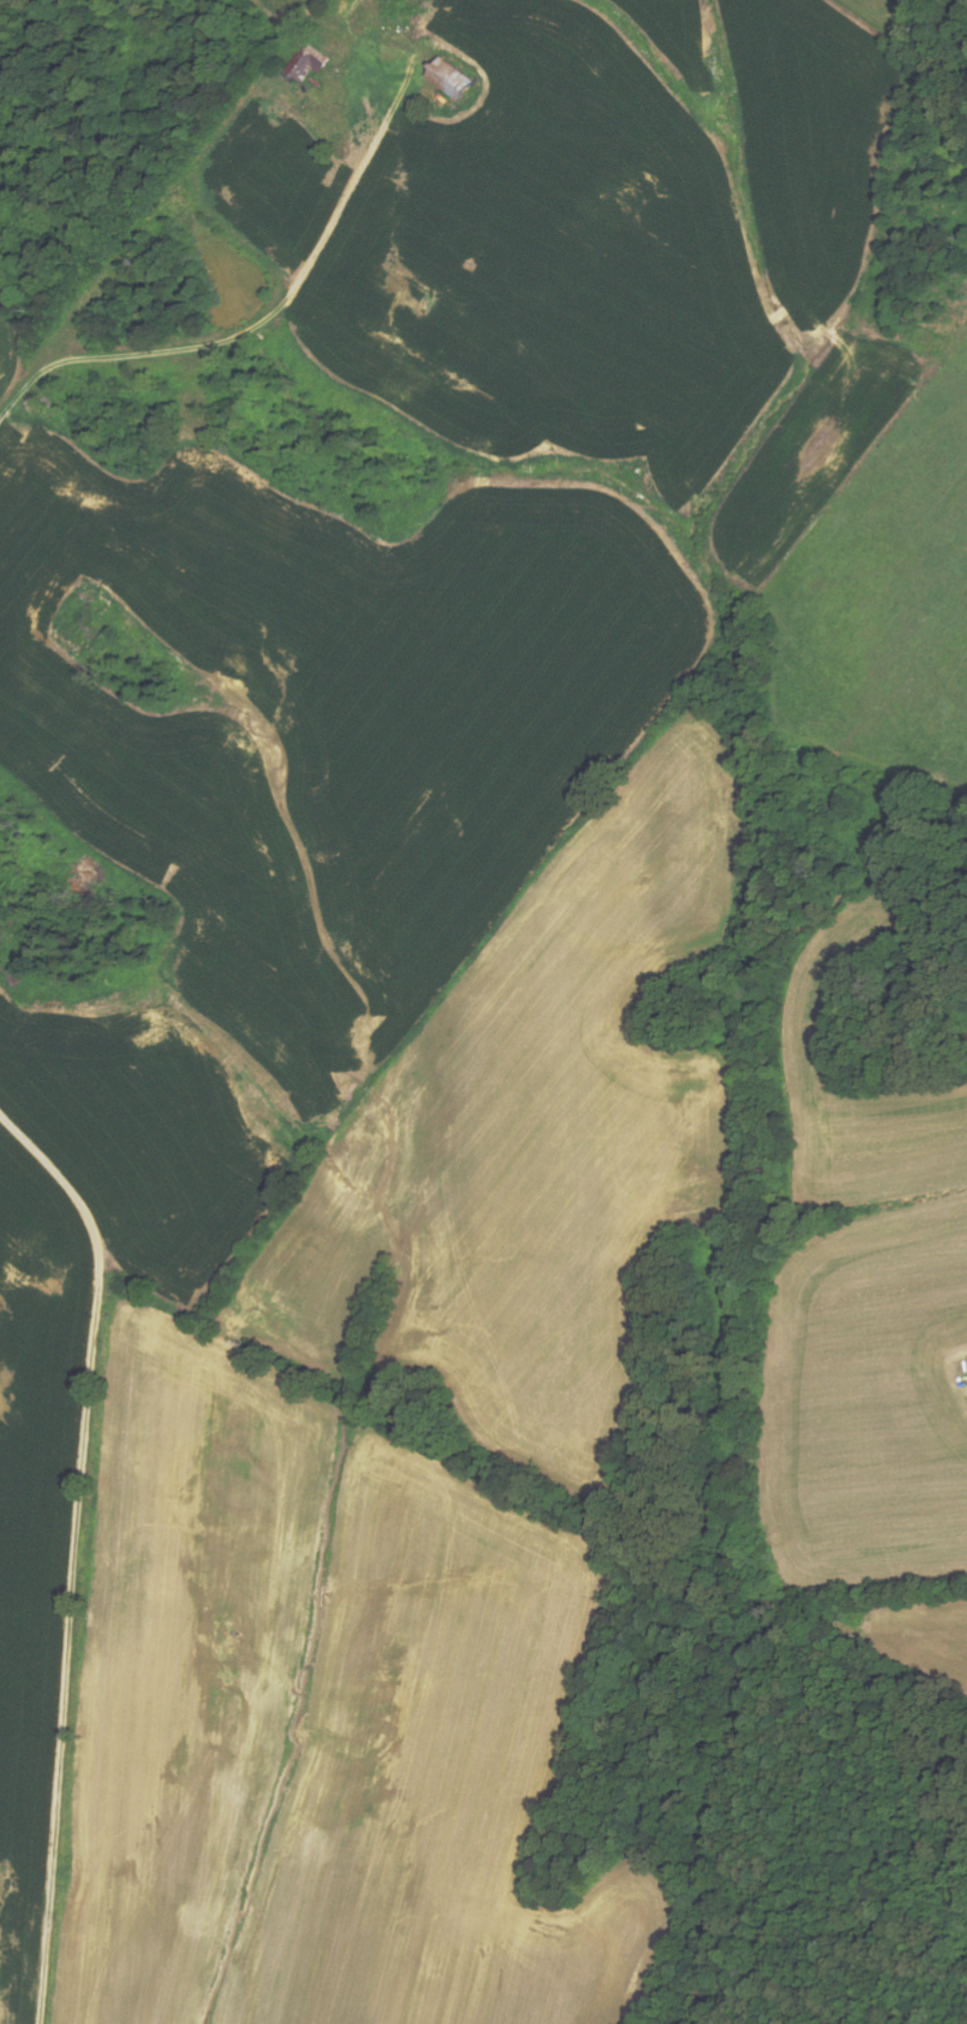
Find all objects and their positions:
road: (258, 55)
building: (315, 64)
building: (454, 78)
road: (2, 425)
road: (50, 490)
road: (813, 807)

